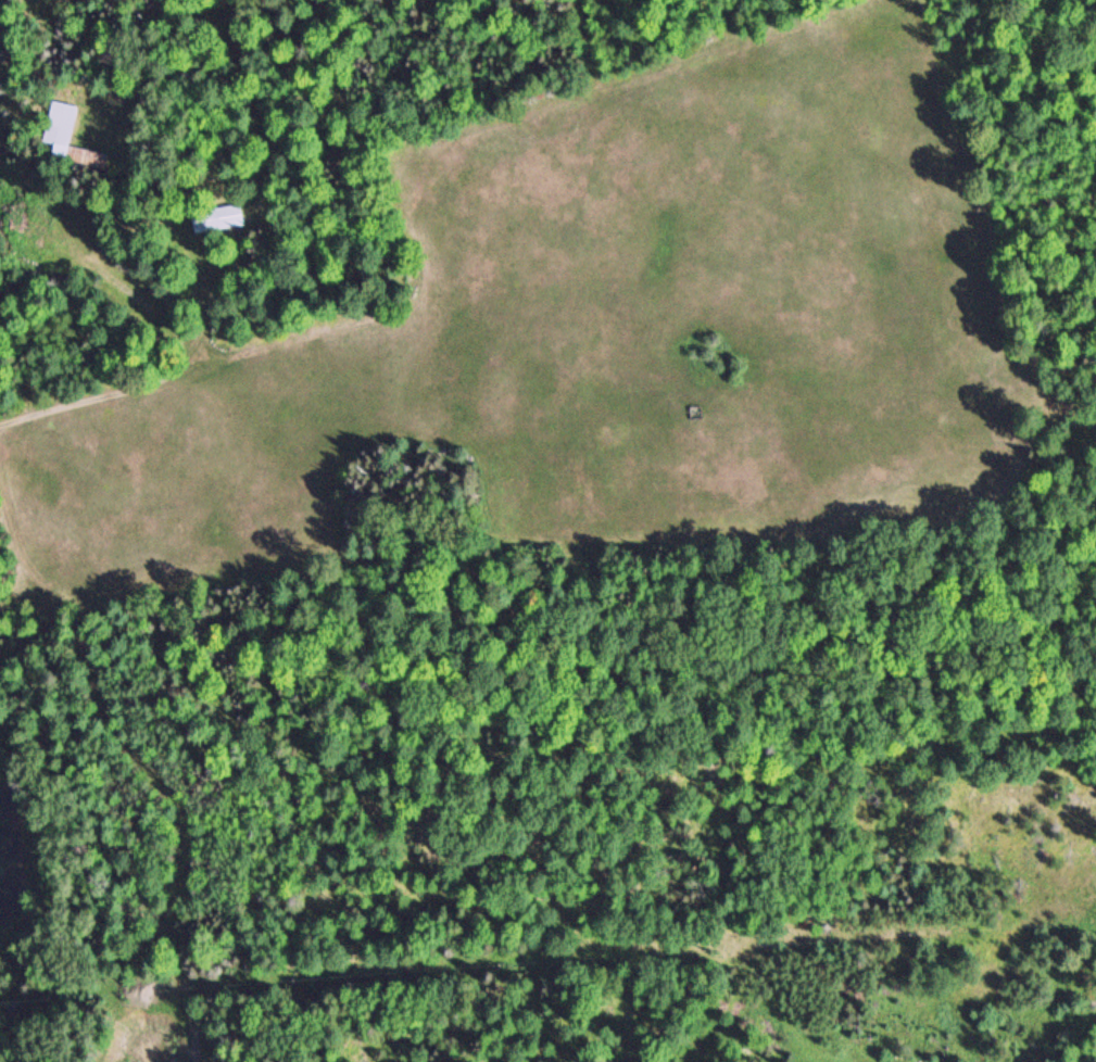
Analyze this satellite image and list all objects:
building: (70, 136)
building: (217, 218)

